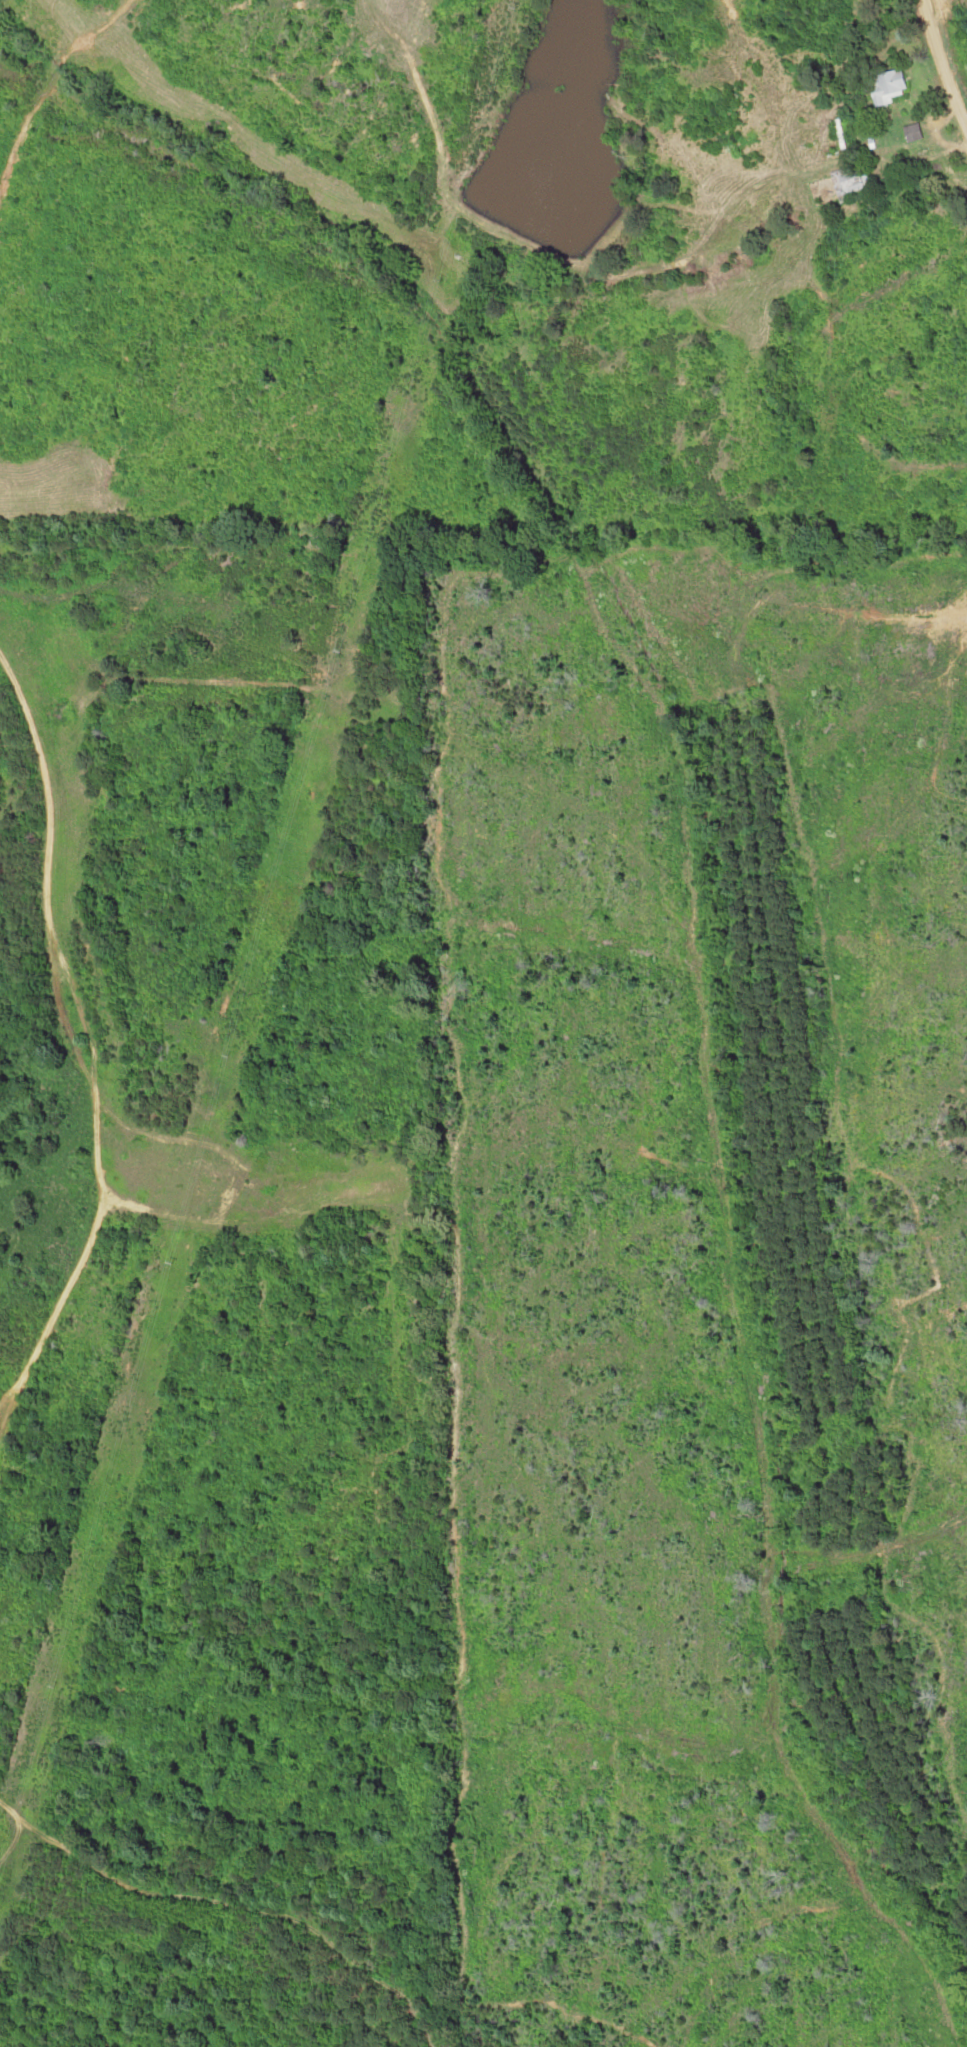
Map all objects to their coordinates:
road: (950, 43)
building: (888, 86)
building: (847, 183)

